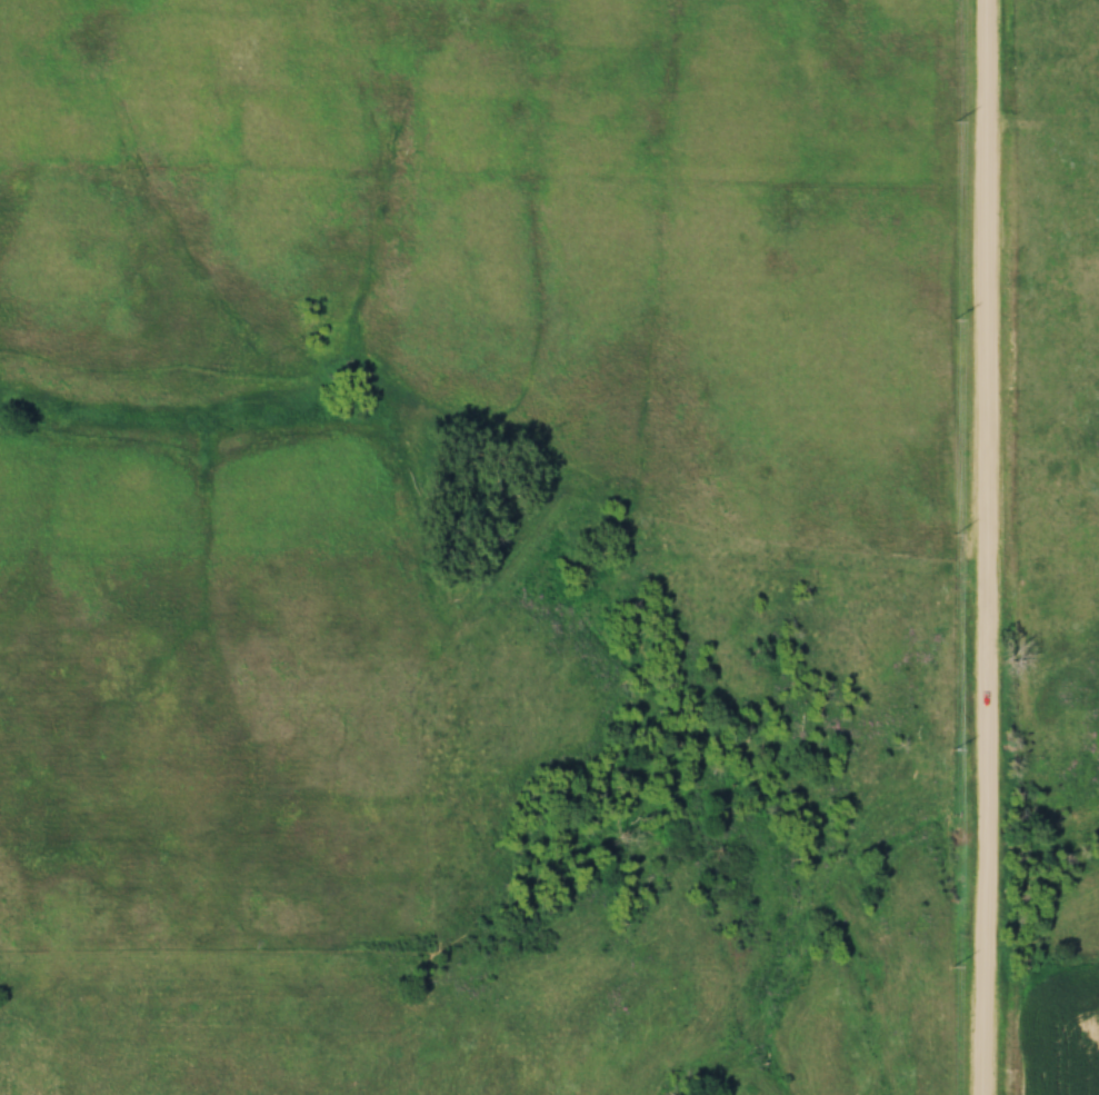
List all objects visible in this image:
road: (987, 547)

